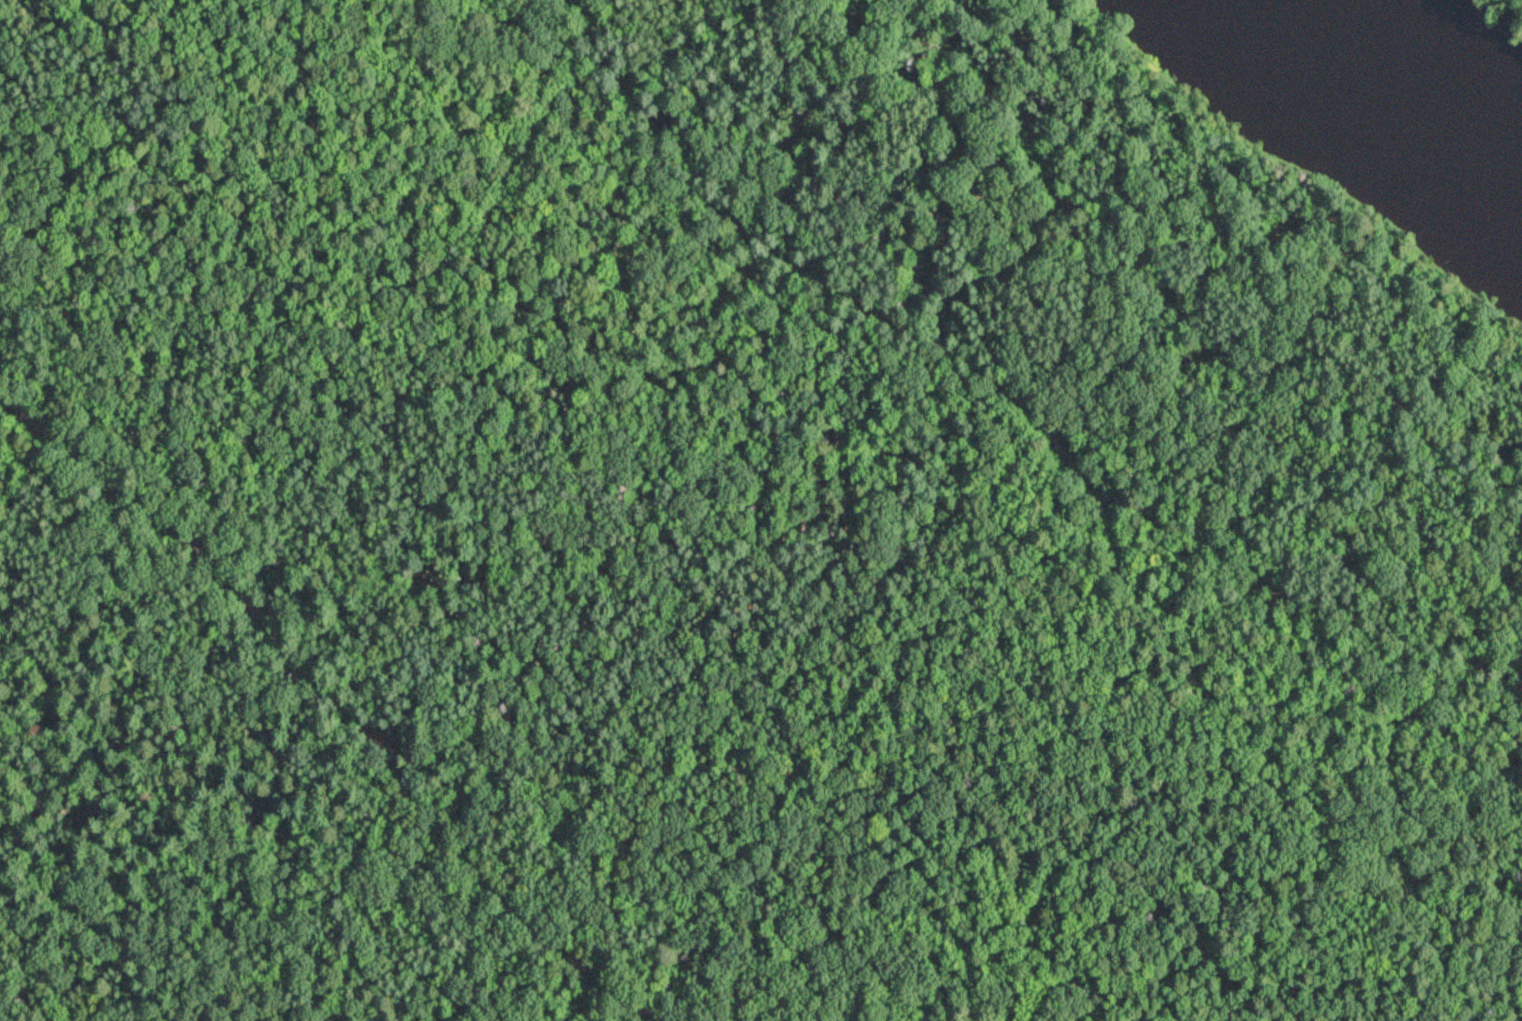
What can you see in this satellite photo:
park: (1442, 52)
river: (1417, 96)
road: (1011, 396)
park: (728, 531)
road: (346, 703)

